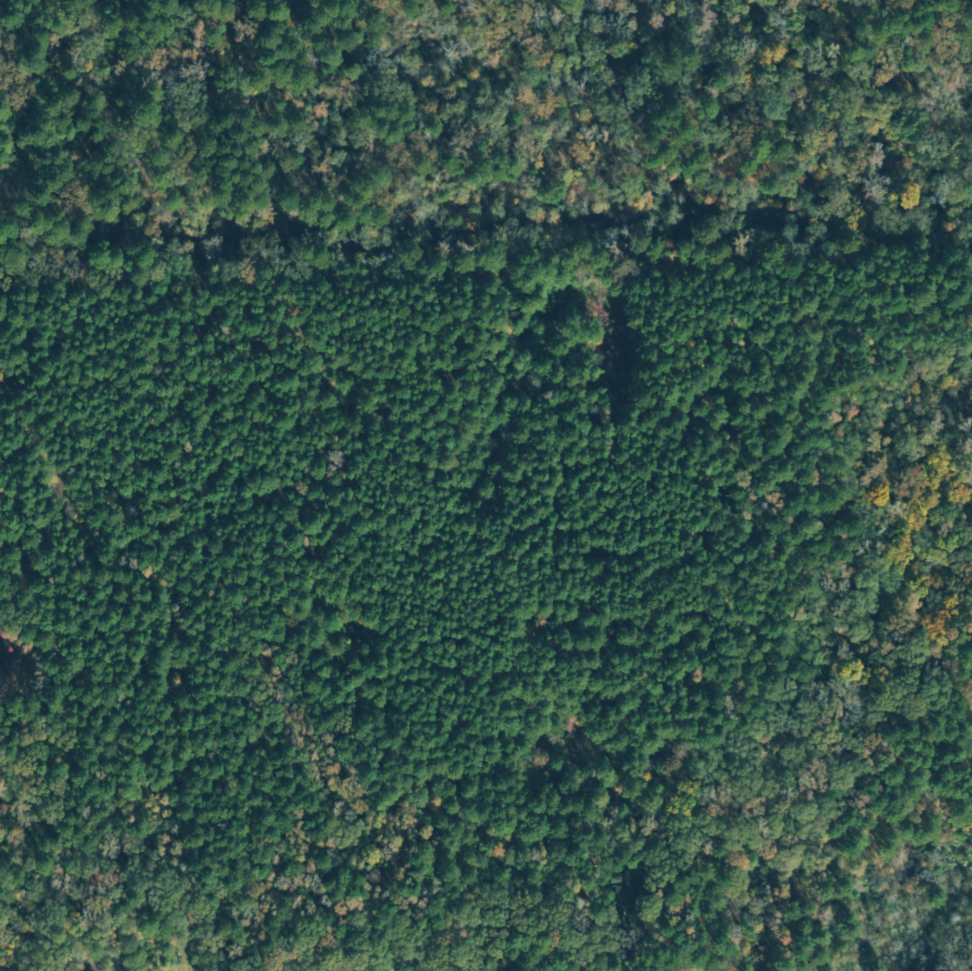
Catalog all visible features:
road: (872, 860)

